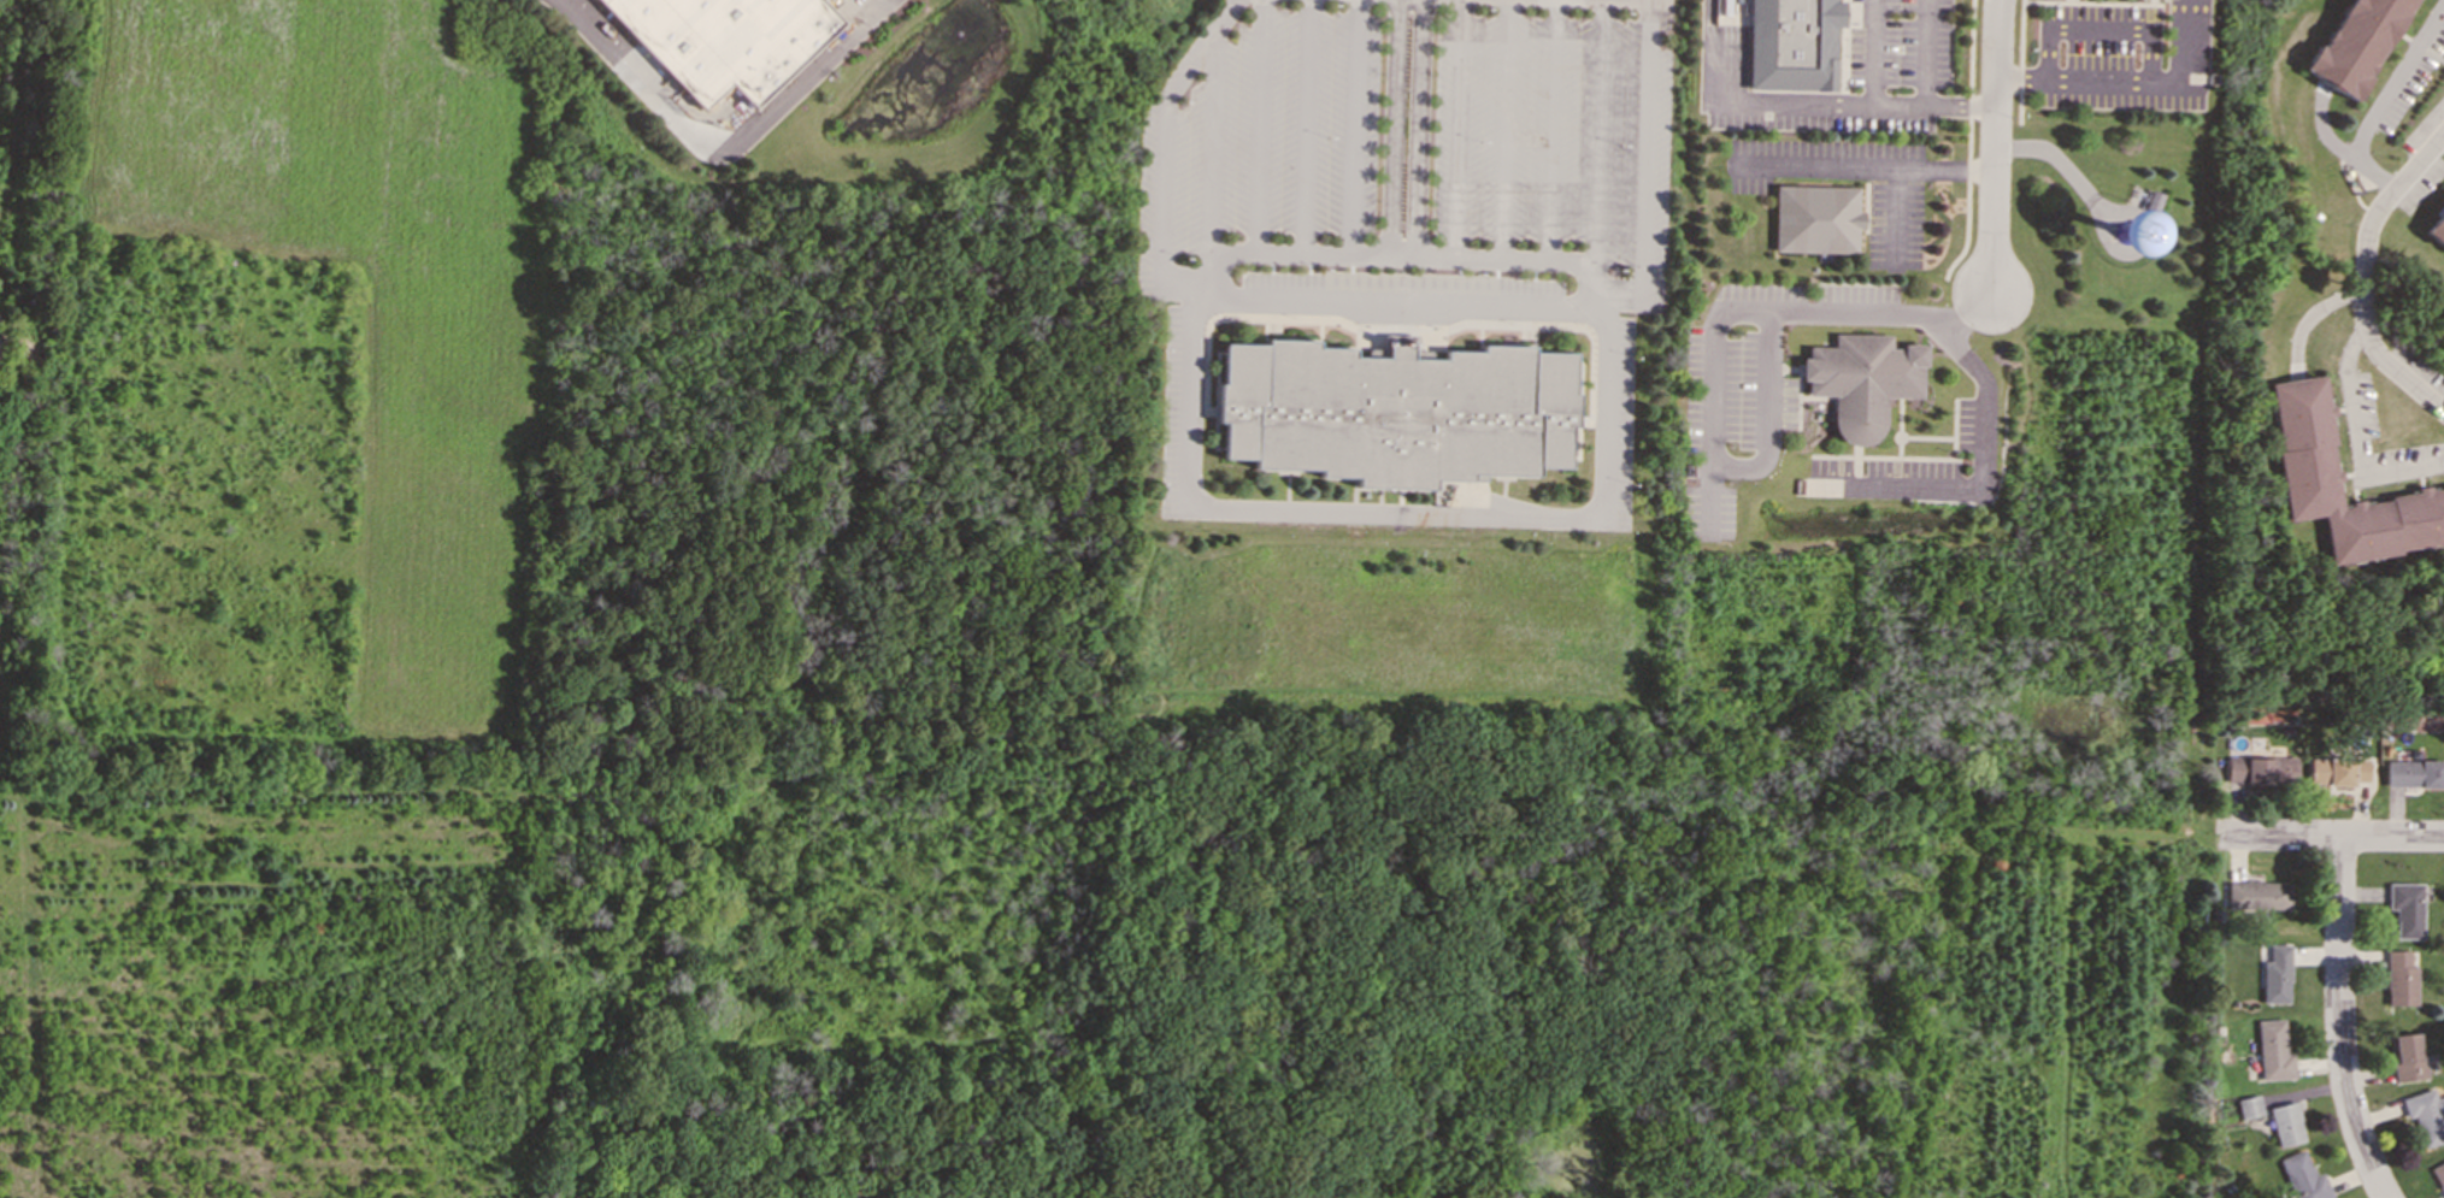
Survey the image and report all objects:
road: (2097, 28)
building: (725, 40)
road: (2190, 41)
building: (1792, 43)
building: (2356, 43)
road: (1703, 49)
road: (1842, 51)
road: (1878, 51)
road: (1201, 52)
road: (2019, 60)
road: (2093, 79)
road: (1922, 87)
road: (1813, 100)
road: (2383, 101)
road: (1255, 126)
road: (1306, 128)
road: (1353, 128)
road: (1391, 128)
road: (1420, 129)
road: (1455, 129)
road: (1504, 130)
road: (1551, 130)
road: (1597, 131)
road: (2443, 136)
road: (1215, 140)
road: (1966, 142)
road: (1644, 146)
road: (1994, 146)
road: (720, 149)
road: (1869, 166)
road: (1162, 189)
road: (1897, 213)
building: (1814, 219)
water tower: (2131, 229)
building: (2437, 229)
parking lot: (1407, 258)
road: (1592, 262)
road: (2363, 277)
road: (1174, 287)
road: (1625, 300)
road: (1729, 311)
building: (1860, 380)
road: (1984, 408)
building: (1396, 409)
road: (1768, 413)
building: (2303, 436)
road: (2357, 436)
road: (1392, 514)
building: (2261, 769)
building: (2337, 771)
building: (2414, 773)
road: (2330, 837)
building: (2257, 895)
building: (2405, 908)
building: (2275, 974)
building: (2398, 978)
road: (2338, 1021)
building: (2272, 1050)
building: (2405, 1057)
building: (2248, 1106)
building: (2425, 1115)
building: (2285, 1123)
building: (2438, 1175)
building: (2302, 1176)

